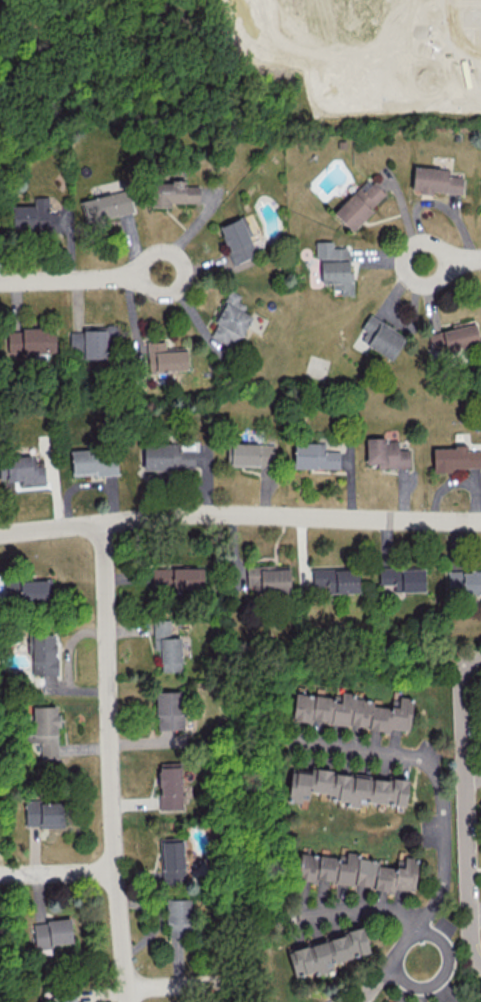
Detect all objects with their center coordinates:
building: (435, 180)
building: (173, 191)
building: (359, 203)
building: (106, 205)
building: (34, 216)
building: (237, 240)
road: (452, 259)
building: (334, 266)
road: (80, 277)
building: (230, 320)
building: (381, 336)
building: (453, 336)
building: (31, 340)
building: (92, 340)
building: (164, 358)
building: (386, 453)
building: (251, 454)
building: (166, 456)
building: (314, 456)
building: (455, 458)
building: (94, 461)
building: (22, 470)
road: (240, 515)
building: (177, 577)
building: (268, 578)
building: (402, 578)
building: (336, 579)
building: (464, 582)
building: (11, 588)
building: (34, 590)
building: (167, 646)
building: (43, 653)
building: (169, 709)
building: (351, 711)
building: (44, 730)
road: (367, 755)
road: (111, 763)
road: (473, 778)
building: (170, 785)
building: (347, 787)
building: (480, 806)
road: (466, 808)
building: (44, 813)
building: (172, 860)
road: (58, 871)
building: (357, 871)
road: (437, 894)
road: (363, 908)
road: (476, 913)
building: (177, 917)
building: (51, 933)
building: (326, 952)
road: (439, 974)
road: (175, 985)
building: (67, 998)

